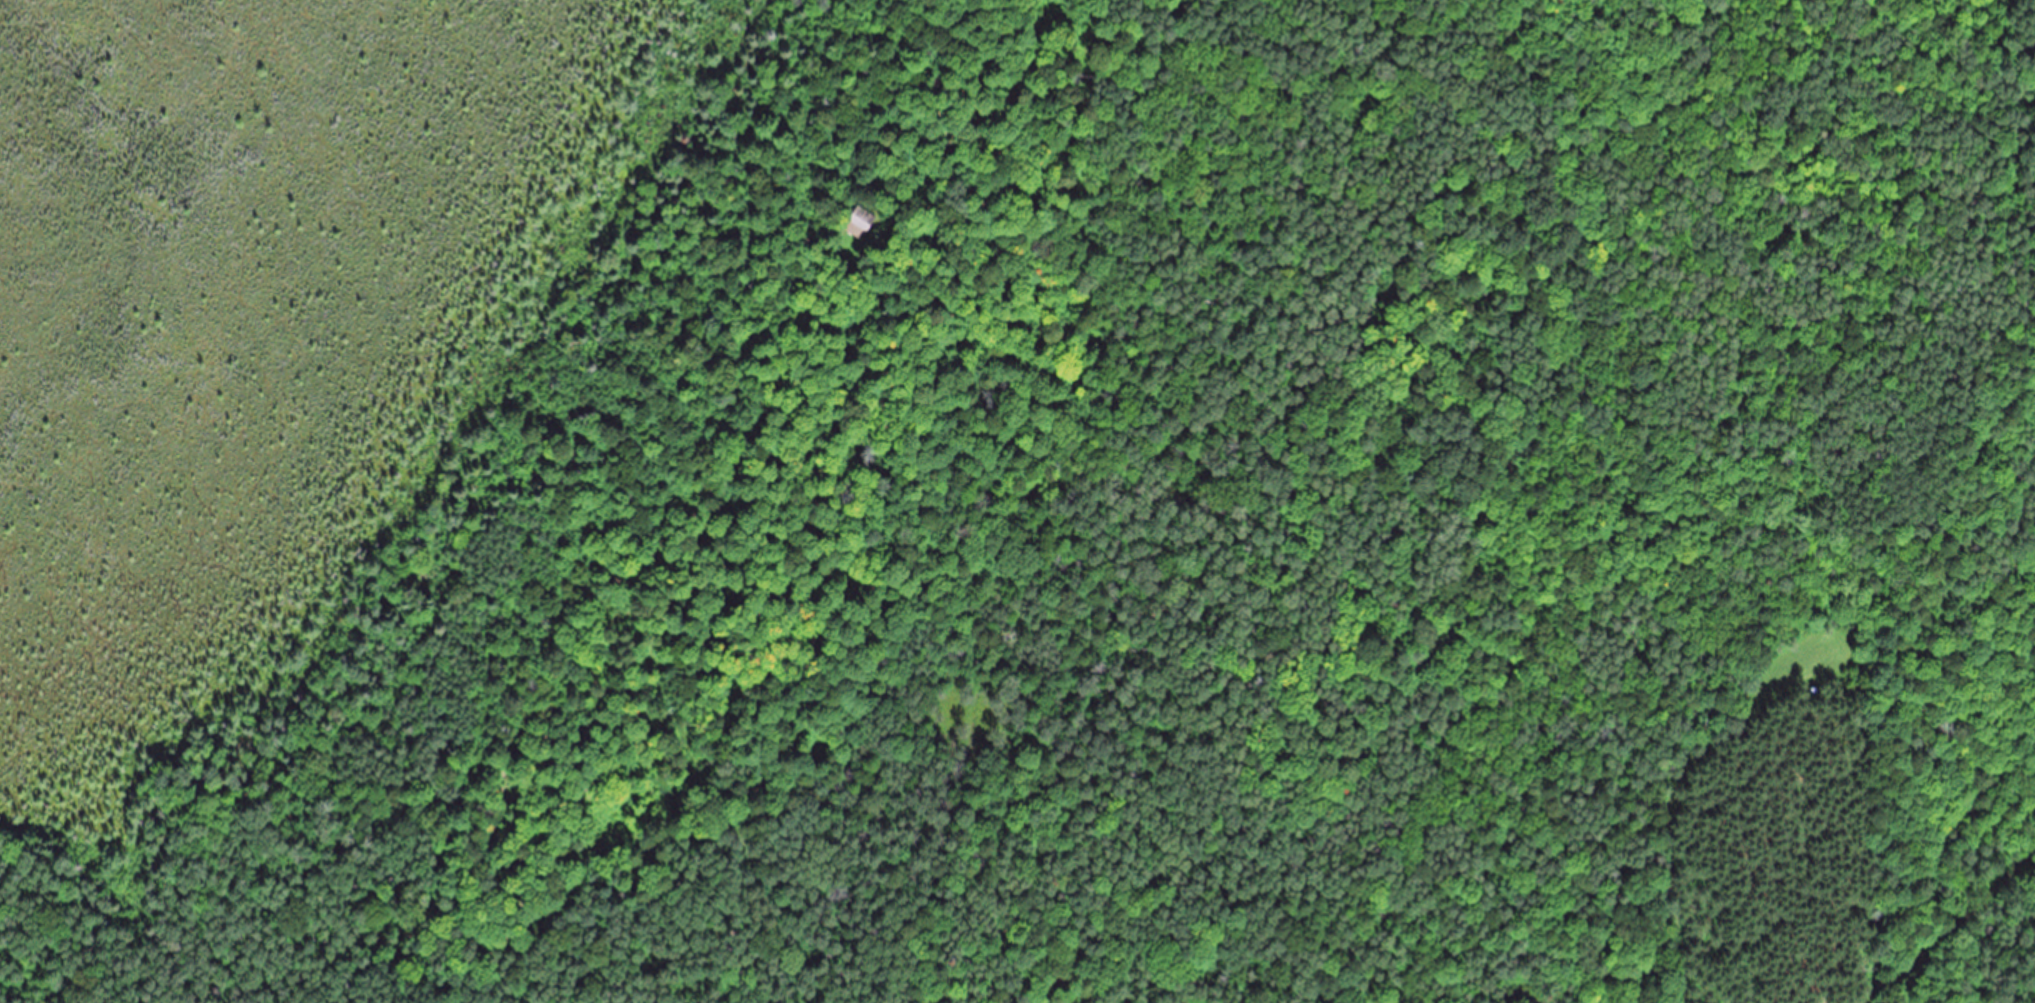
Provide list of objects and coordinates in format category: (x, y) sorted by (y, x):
road: (1954, 928)

